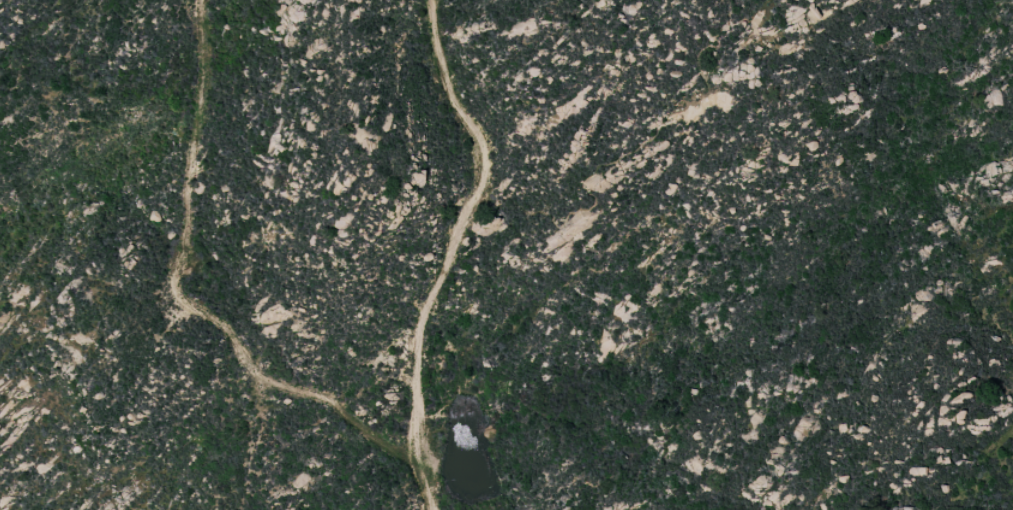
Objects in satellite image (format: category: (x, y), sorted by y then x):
road: (453, 250)
park: (782, 252)

